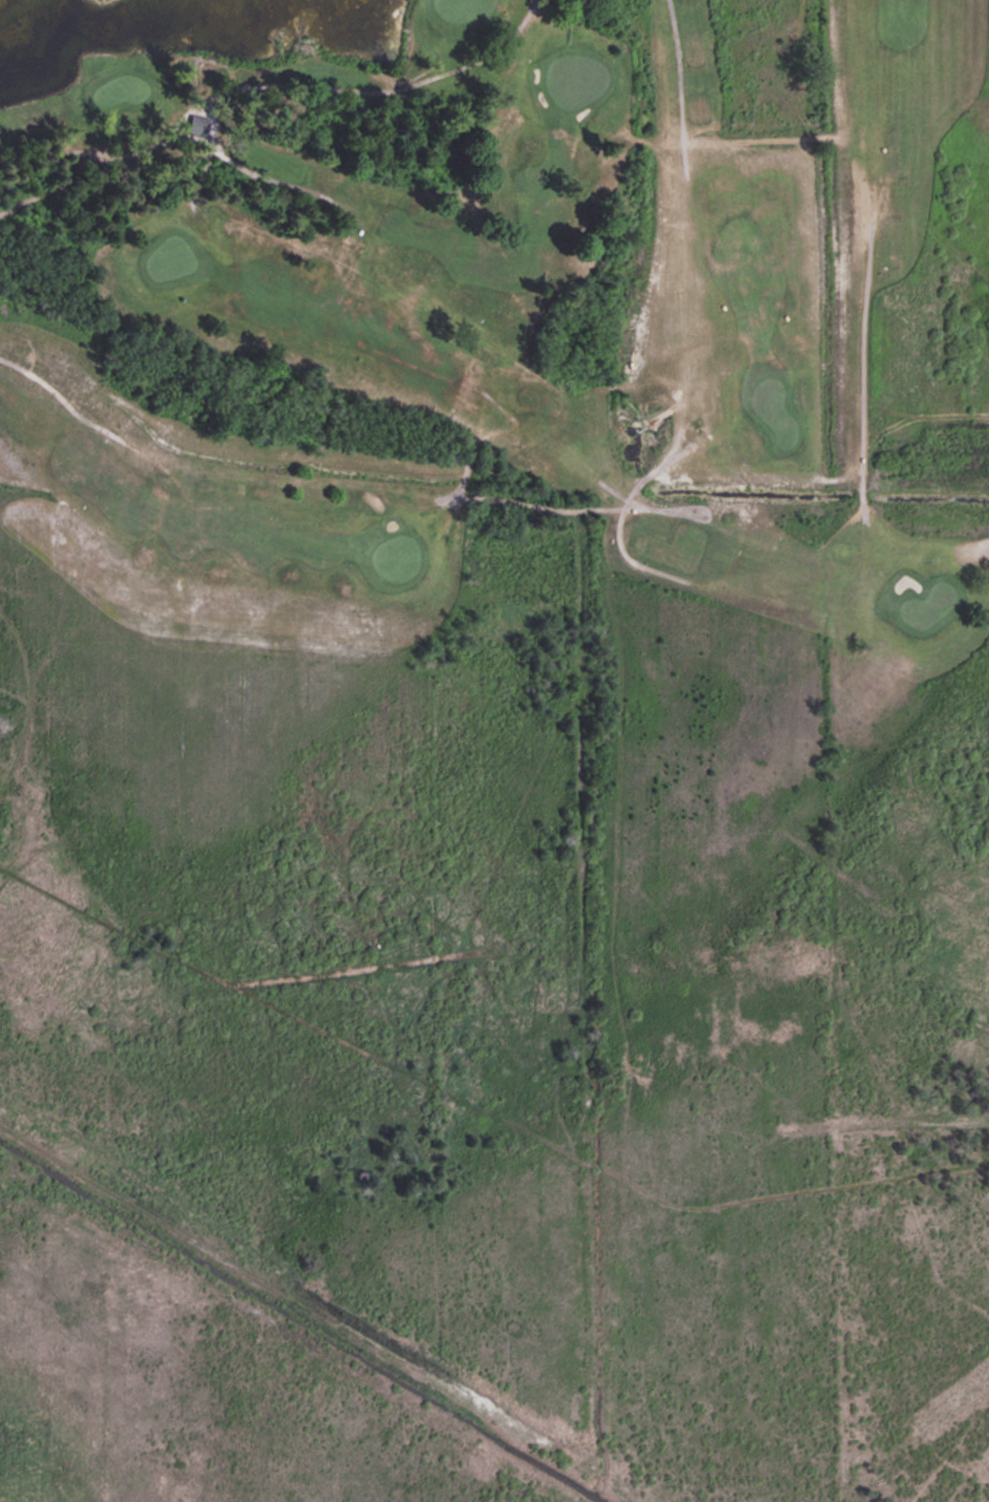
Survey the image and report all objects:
park: (487, 308)

